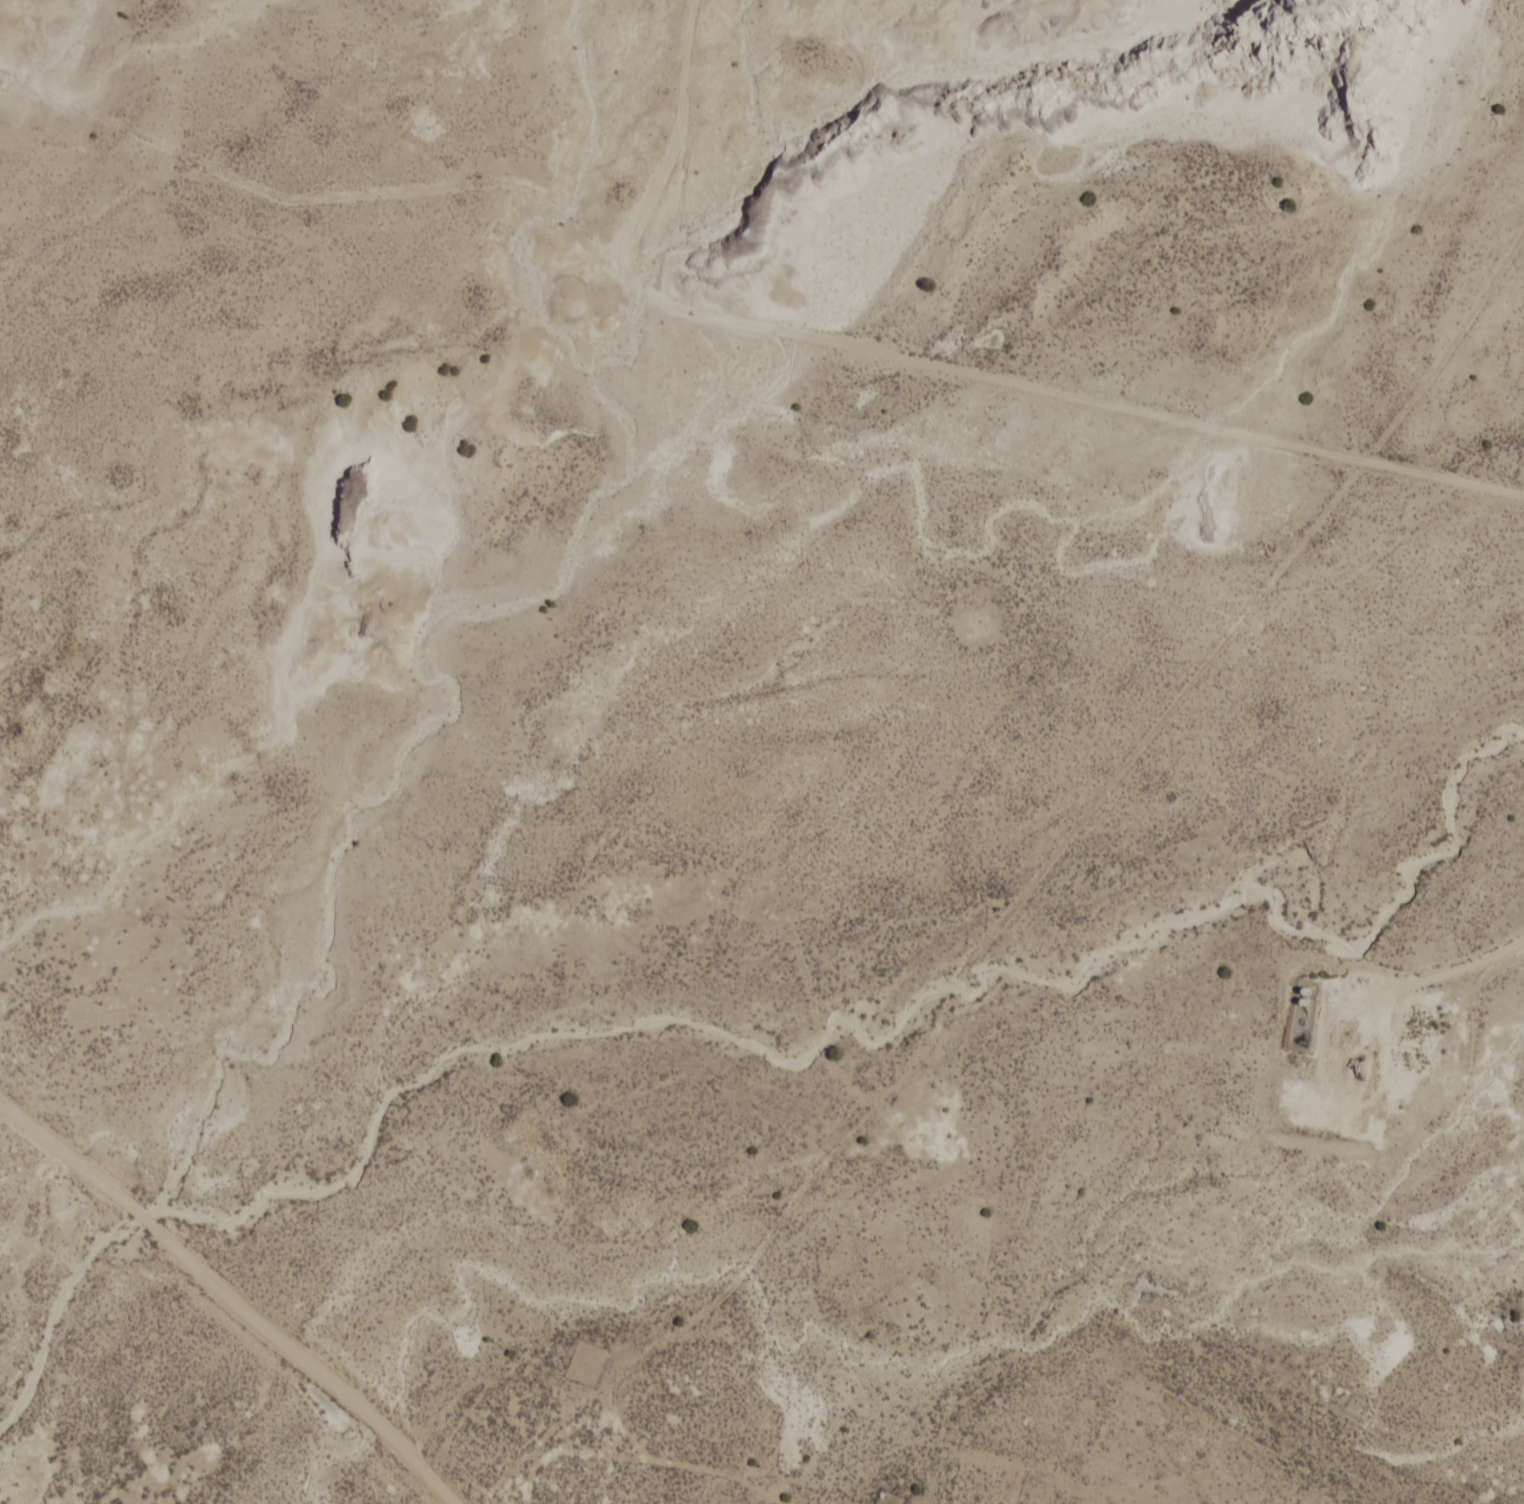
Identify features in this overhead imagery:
road: (230, 1299)

